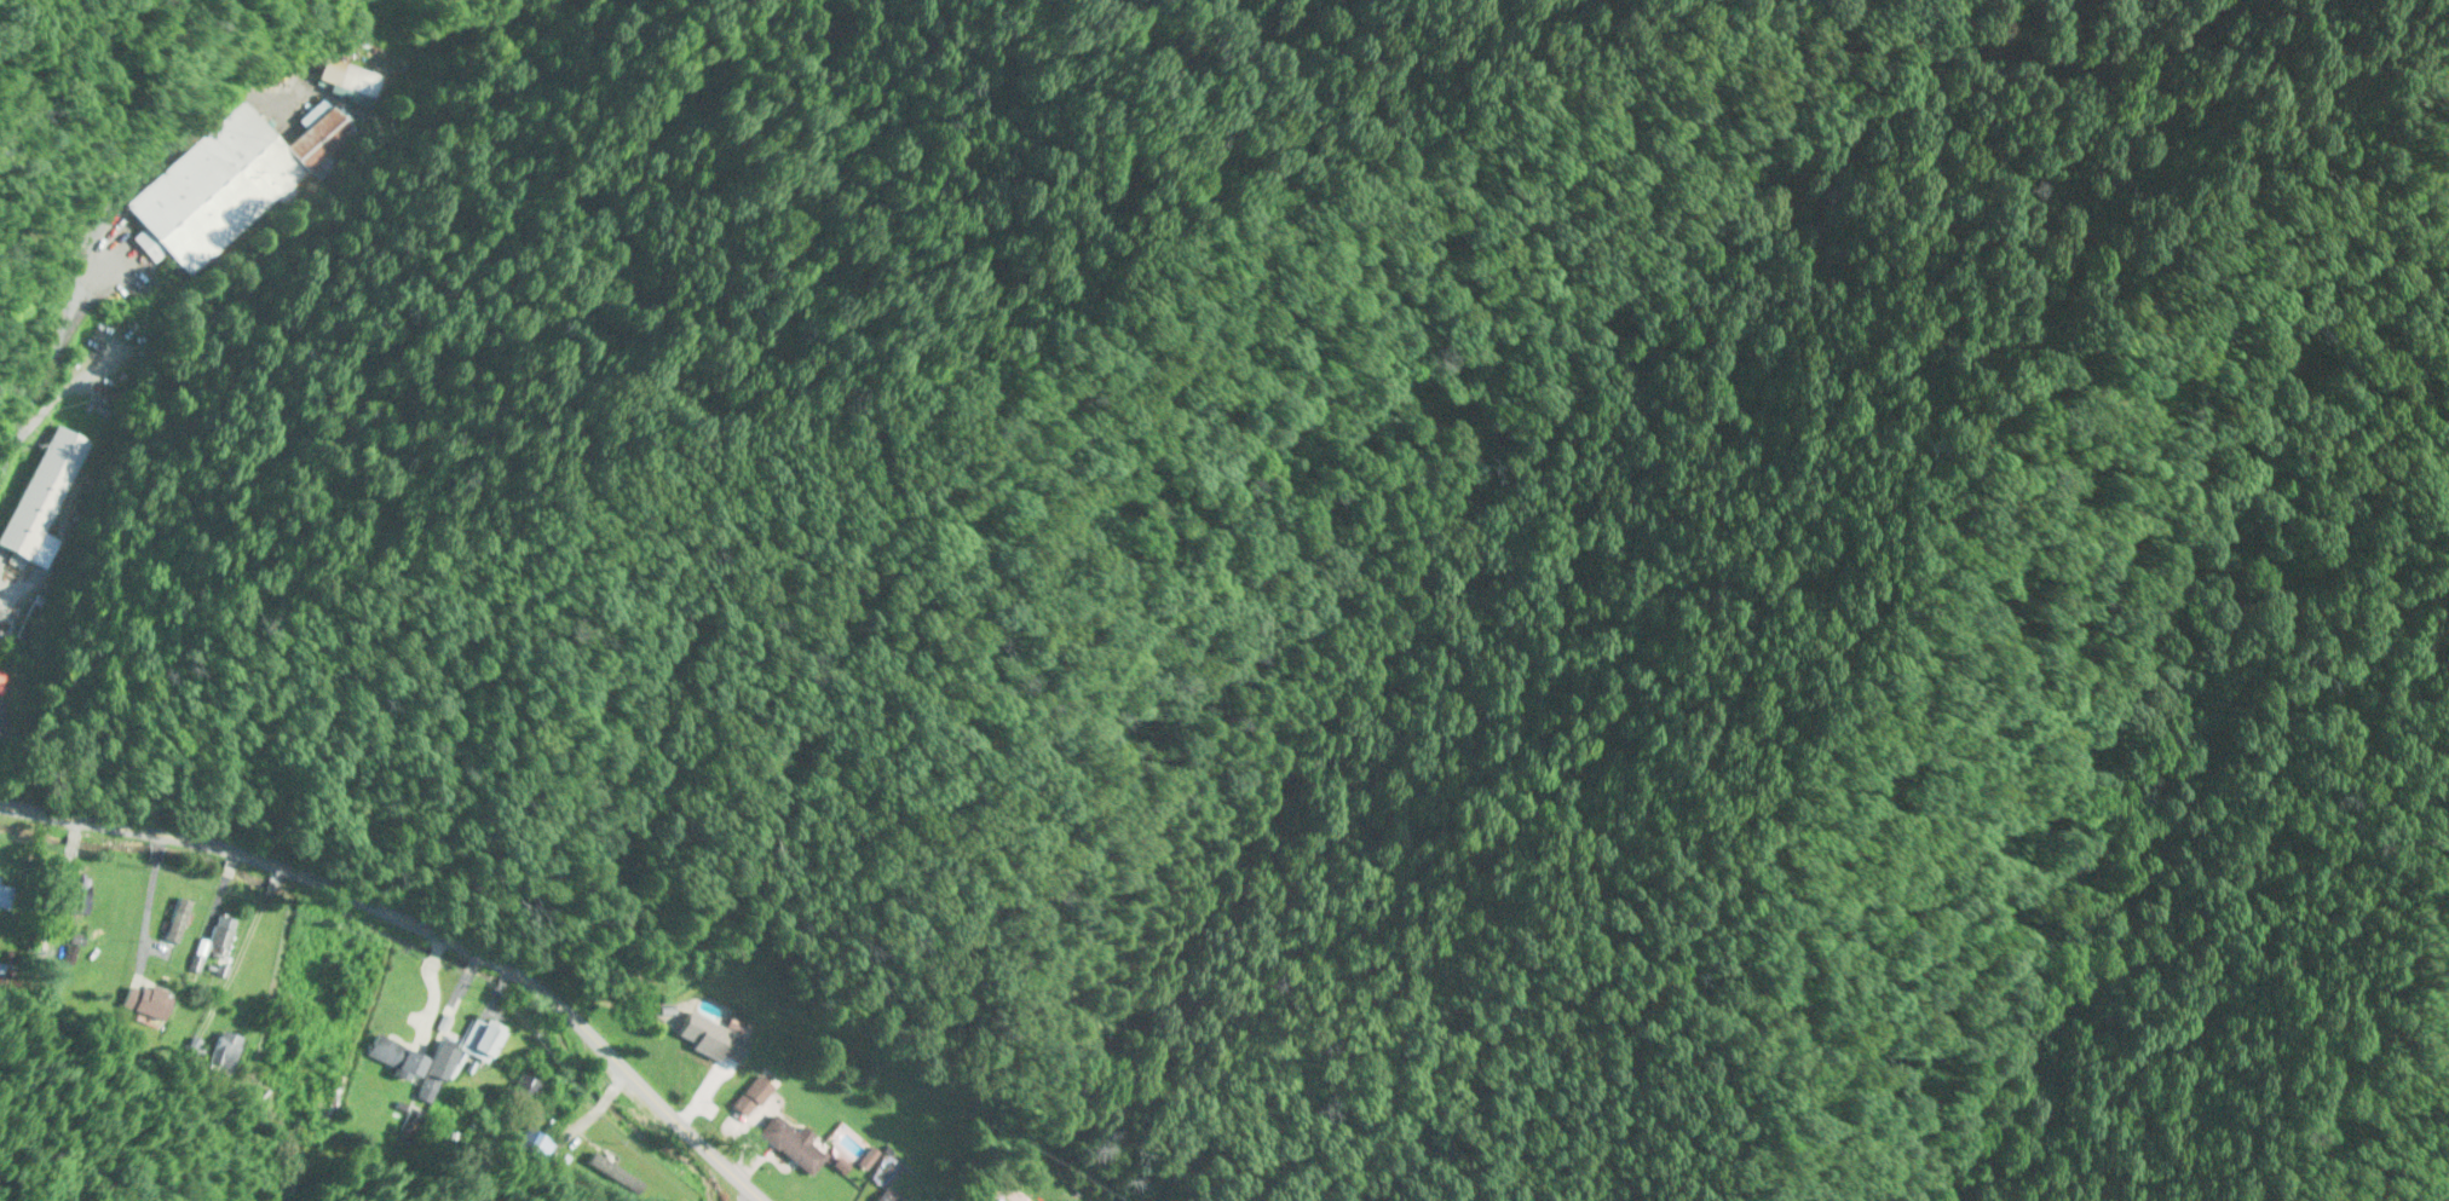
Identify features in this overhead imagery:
building: (347, 80)
building: (226, 181)
road: (82, 265)
building: (44, 498)
building: (28, 619)
building: (1, 682)
building: (5, 895)
building: (179, 920)
road: (431, 924)
building: (223, 939)
building: (145, 1011)
building: (719, 1038)
building: (226, 1055)
building: (485, 1057)
building: (401, 1058)
building: (530, 1089)
building: (754, 1098)
building: (531, 1145)
building: (797, 1148)
building: (889, 1197)

